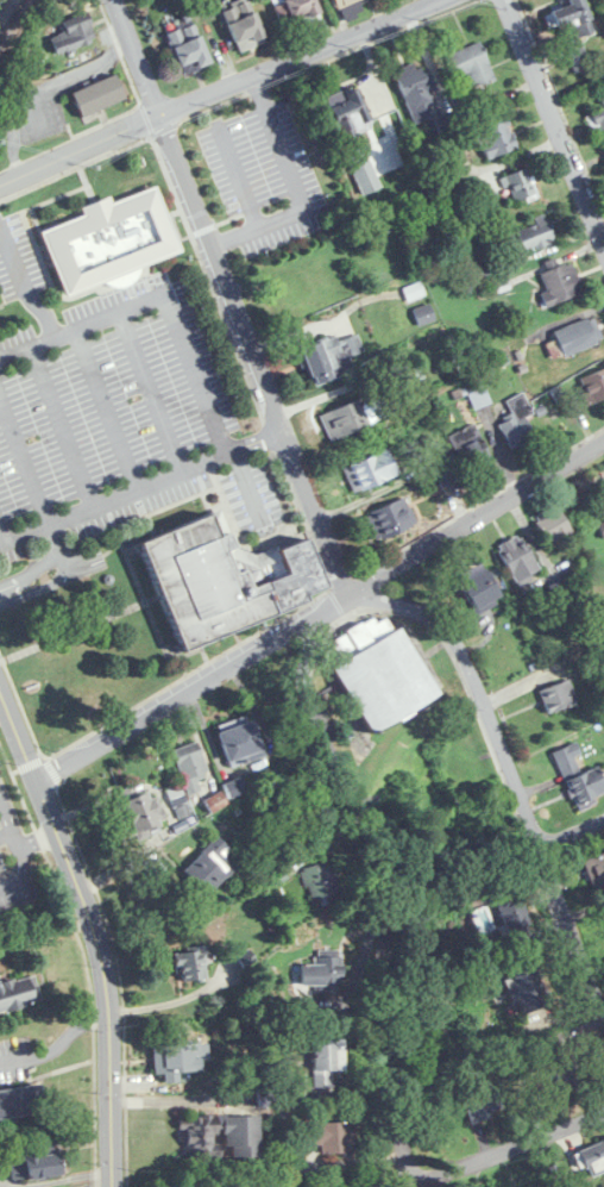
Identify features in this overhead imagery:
building: (342, 2)
building: (298, 10)
railway: (11, 15)
building: (244, 25)
building: (573, 31)
building: (73, 38)
building: (188, 49)
building: (472, 64)
road: (218, 92)
building: (97, 95)
building: (416, 95)
building: (347, 110)
road: (555, 118)
building: (597, 123)
building: (496, 138)
building: (363, 170)
parking lot: (265, 174)
road: (241, 180)
building: (518, 186)
road: (296, 187)
road: (202, 229)
building: (531, 236)
building: (107, 242)
parking lot: (18, 258)
building: (560, 283)
road: (24, 287)
building: (298, 290)
building: (414, 292)
road: (232, 296)
road: (158, 298)
building: (423, 314)
building: (578, 336)
building: (331, 357)
building: (593, 386)
road: (155, 391)
road: (109, 408)
building: (352, 417)
parking lot: (121, 419)
building: (517, 421)
road: (64, 426)
road: (257, 438)
building: (471, 450)
road: (25, 457)
building: (445, 466)
building: (370, 471)
road: (117, 499)
road: (490, 511)
building: (391, 519)
building: (553, 525)
building: (603, 532)
road: (49, 536)
building: (517, 560)
building: (221, 577)
road: (38, 580)
building: (478, 589)
road: (341, 598)
building: (380, 676)
building: (558, 696)
road: (174, 699)
building: (239, 745)
building: (191, 770)
road: (508, 771)
building: (579, 777)
building: (234, 789)
building: (139, 816)
building: (209, 867)
building: (596, 868)
road: (491, 869)
parking lot: (15, 875)
building: (320, 881)
road: (376, 895)
building: (514, 913)
road: (95, 927)
road: (45, 933)
building: (191, 964)
building: (320, 972)
building: (527, 986)
building: (19, 993)
road: (54, 1032)
building: (180, 1058)
building: (326, 1062)
building: (565, 1073)
building: (483, 1101)
building: (21, 1102)
building: (219, 1137)
building: (328, 1137)
road: (521, 1145)
building: (593, 1157)
building: (34, 1163)
road: (428, 1183)

